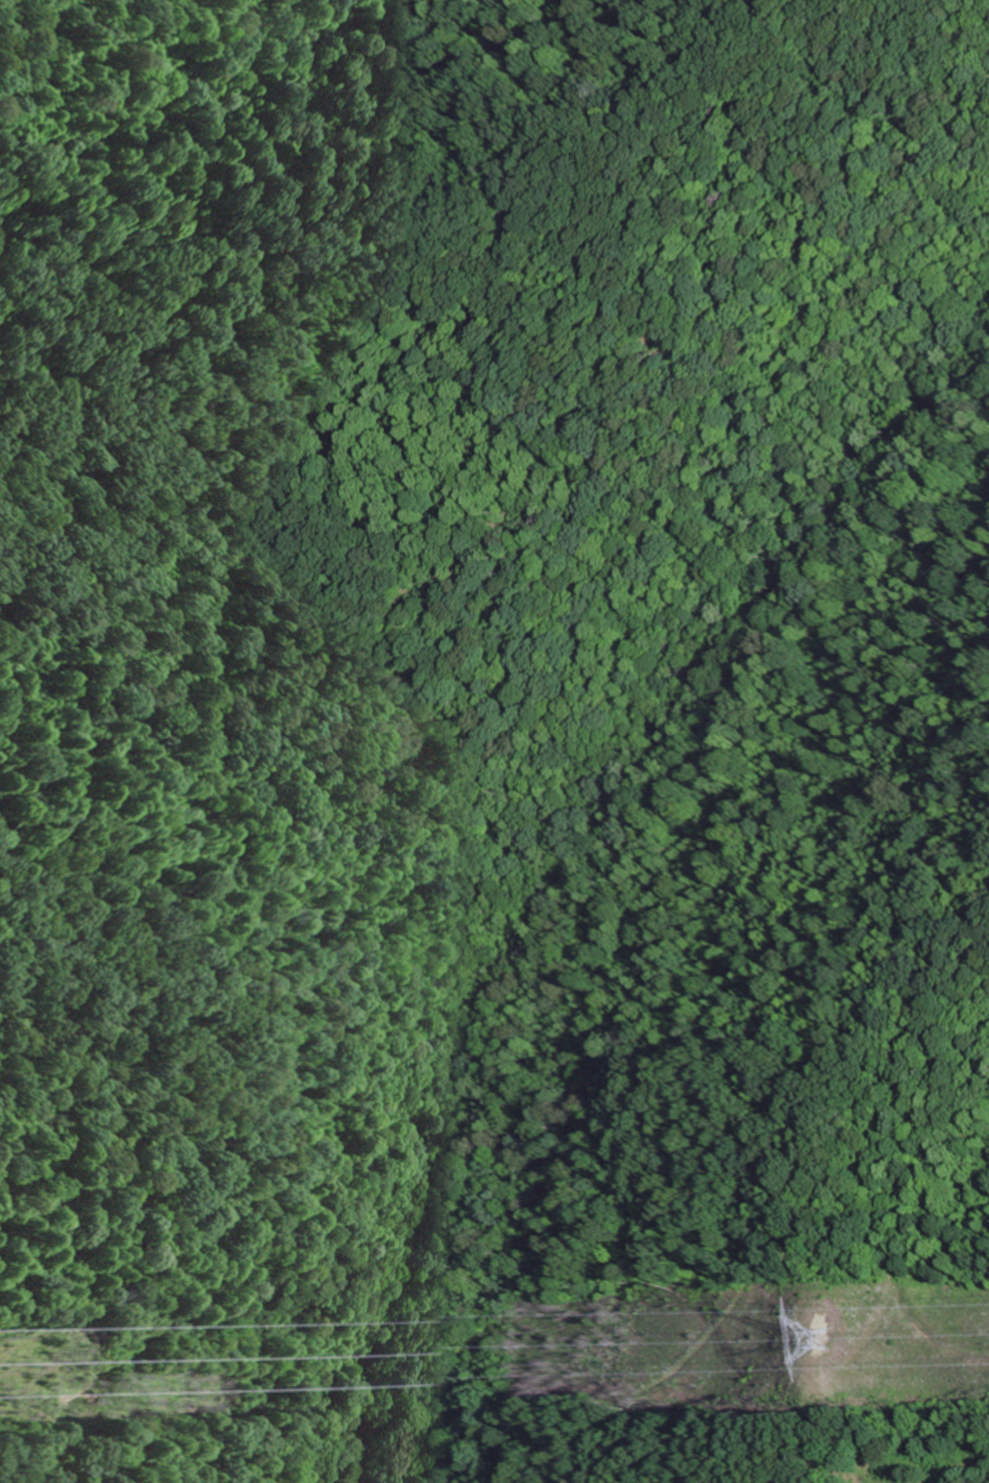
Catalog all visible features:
power tower: (809, 1333)

